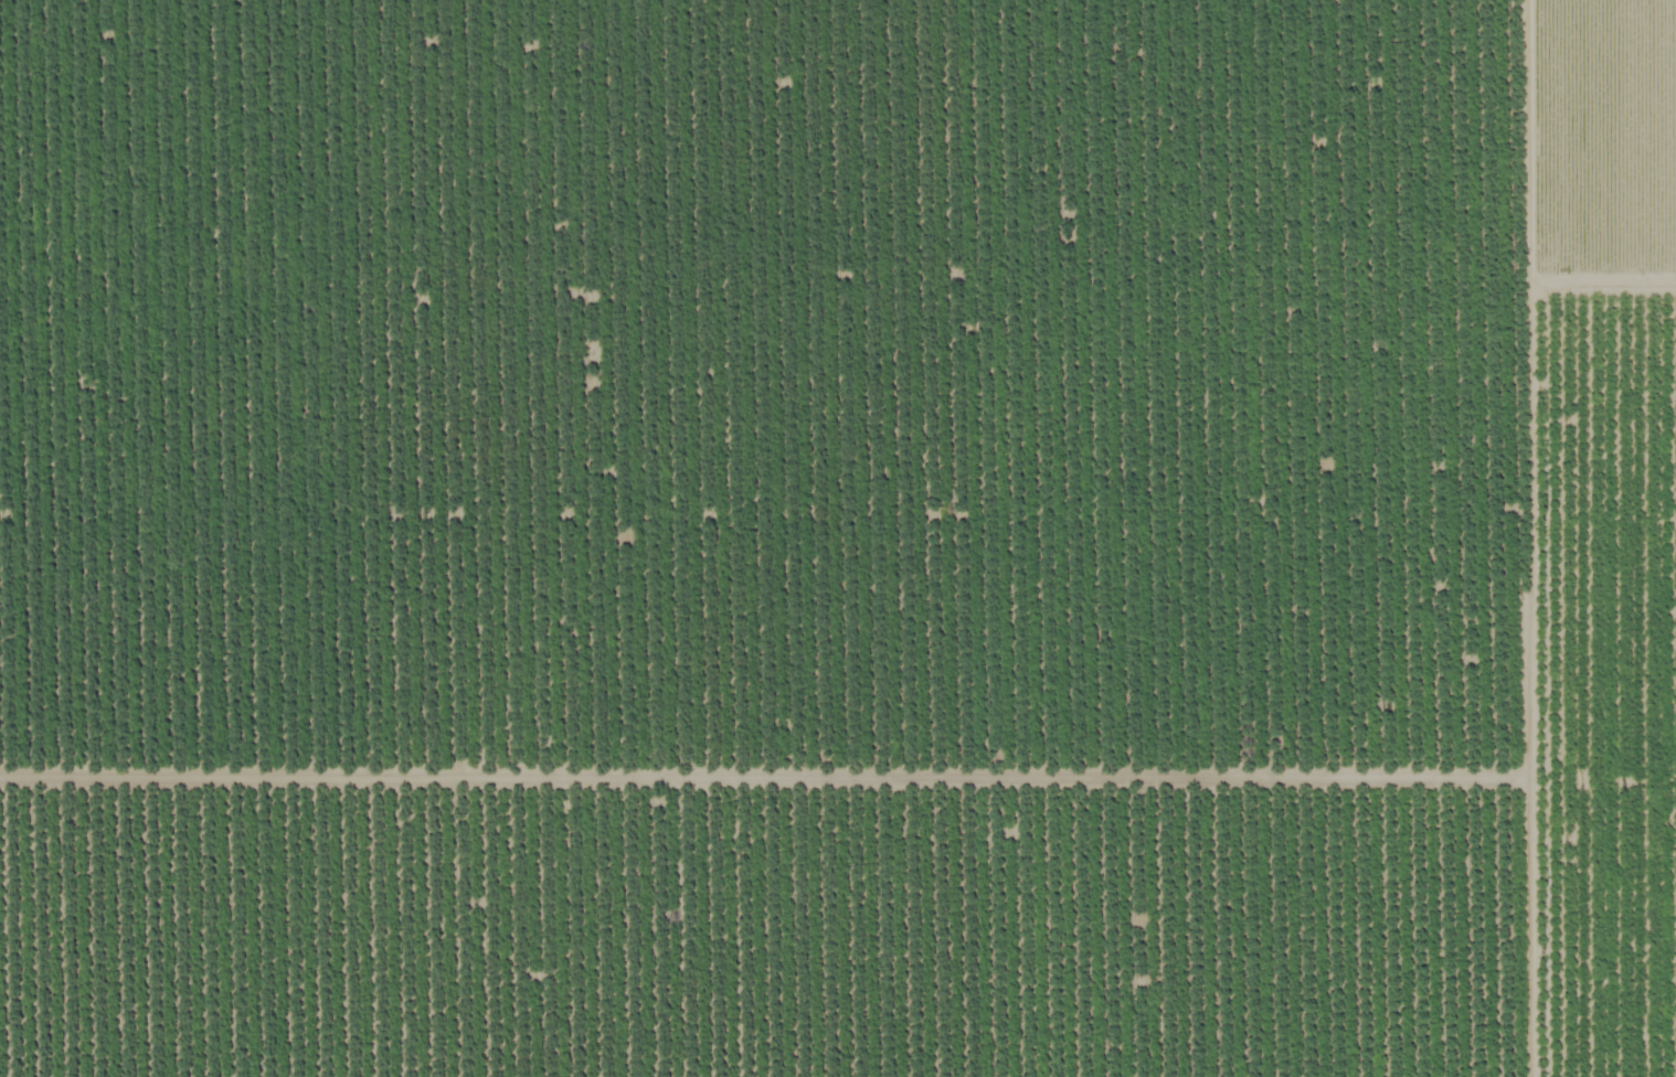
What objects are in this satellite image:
crop: (1604, 134)
road: (1530, 538)

